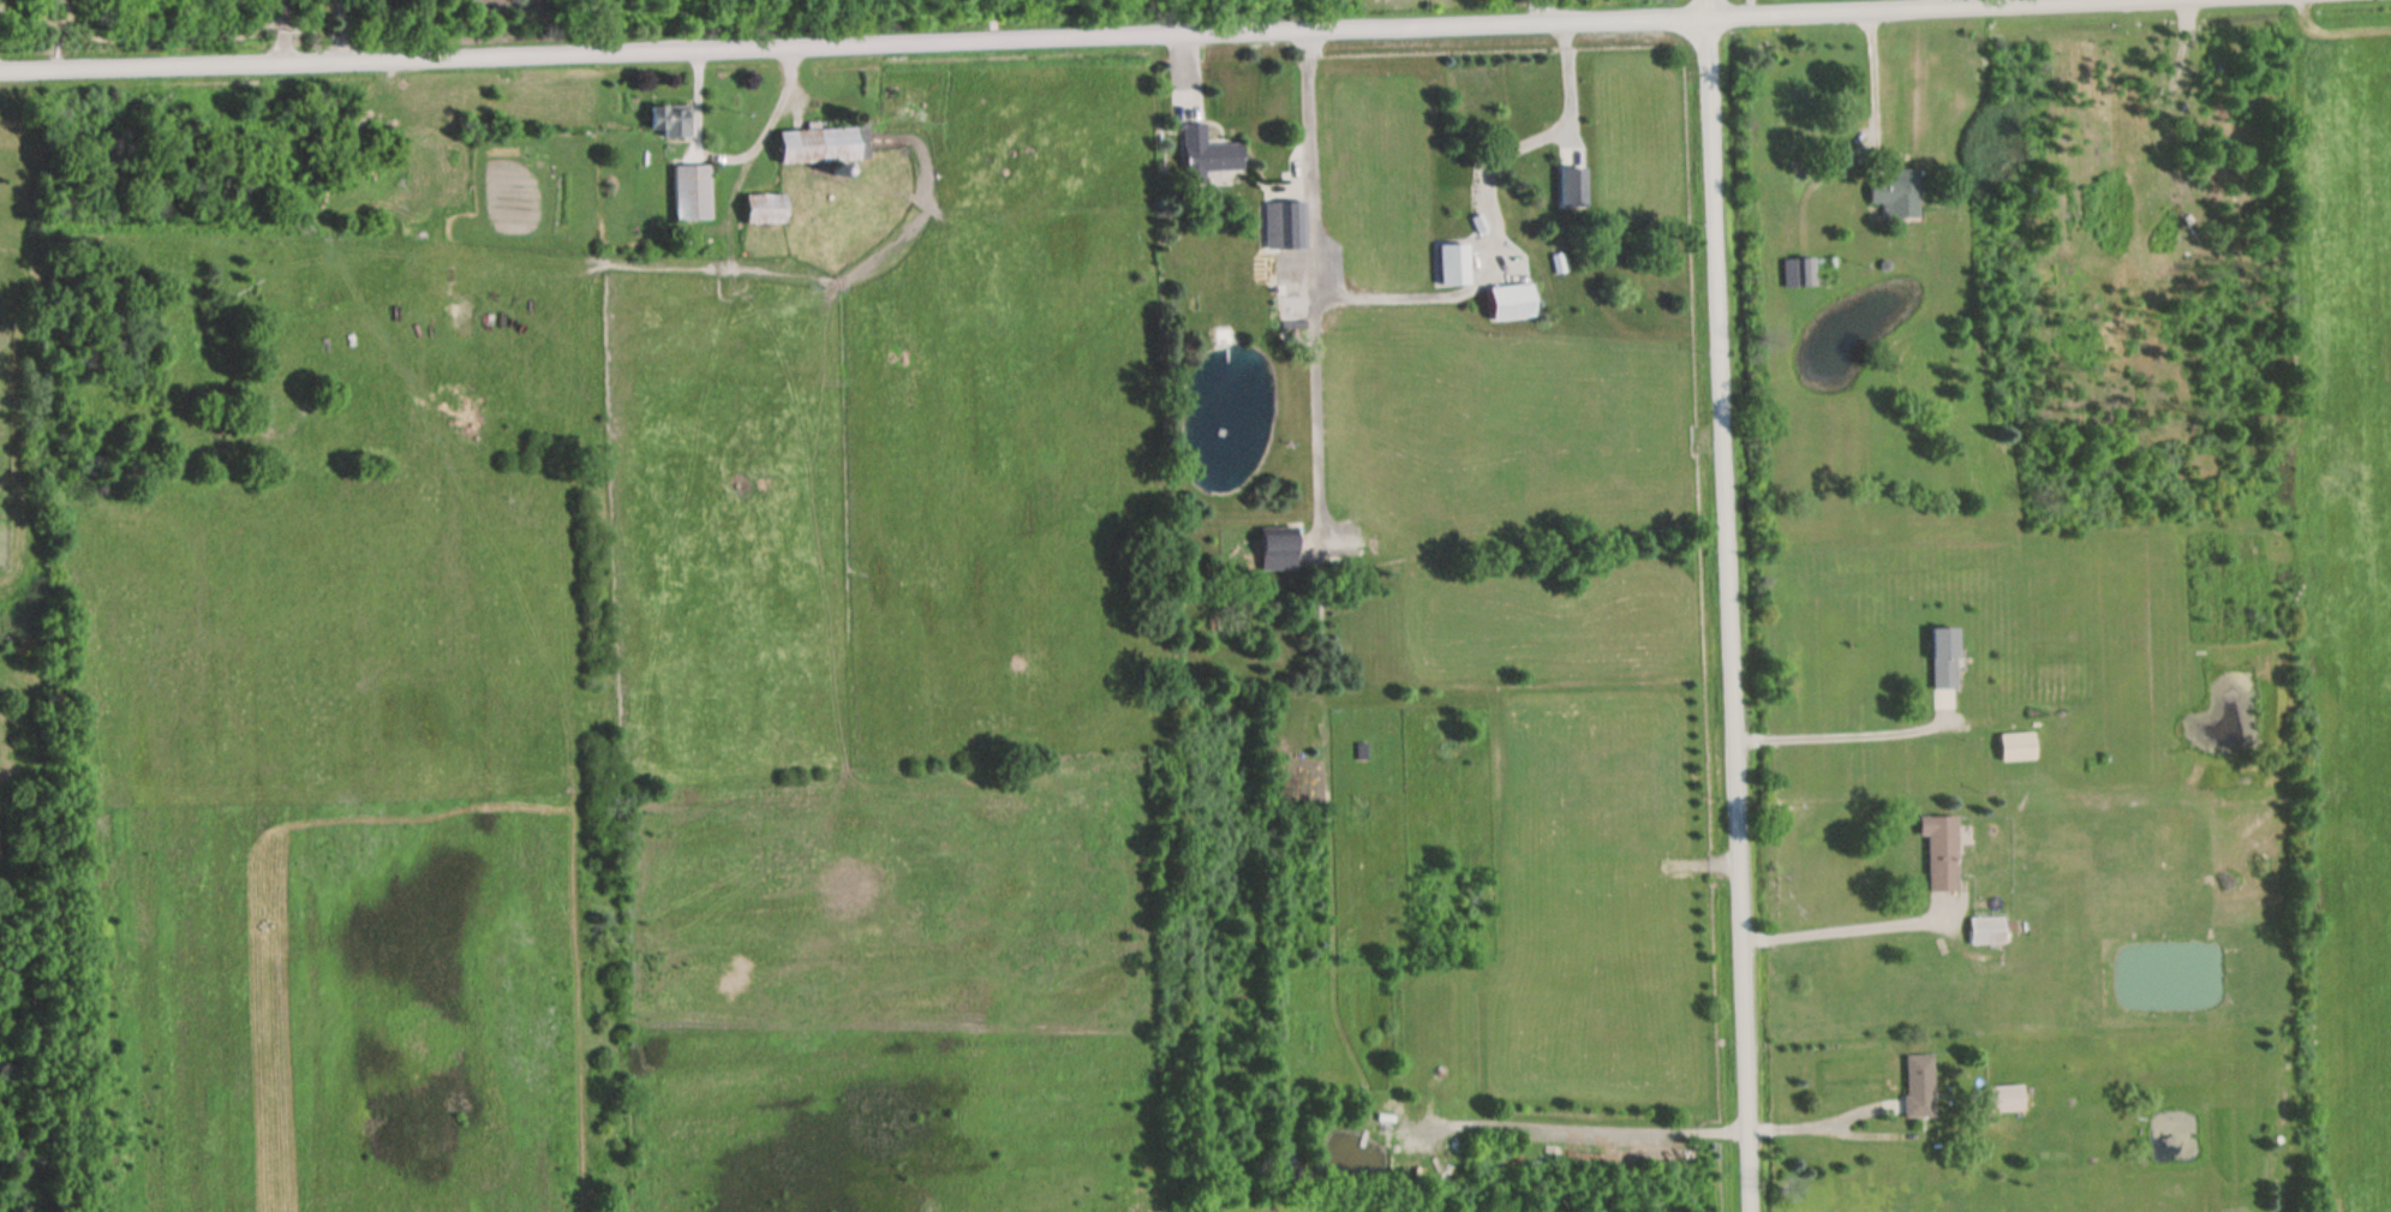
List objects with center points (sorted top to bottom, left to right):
road: (2099, 4)
road: (1735, 10)
road: (1538, 12)
road: (283, 32)
road: (343, 32)
road: (1123, 38)
road: (1870, 80)
building: (669, 120)
building: (821, 145)
building: (1207, 153)
road: (729, 159)
building: (1631, 180)
building: (1572, 187)
building: (691, 192)
building: (1896, 196)
building: (763, 209)
building: (1284, 226)
road: (2279, 235)
building: (1452, 264)
building: (1510, 301)
building: (1277, 553)
road: (1723, 605)
building: (1942, 658)
road: (1837, 739)
building: (2015, 747)
building: (1938, 852)
road: (1835, 926)
building: (1985, 932)
building: (1917, 1086)
building: (2003, 1098)
road: (1803, 1128)

